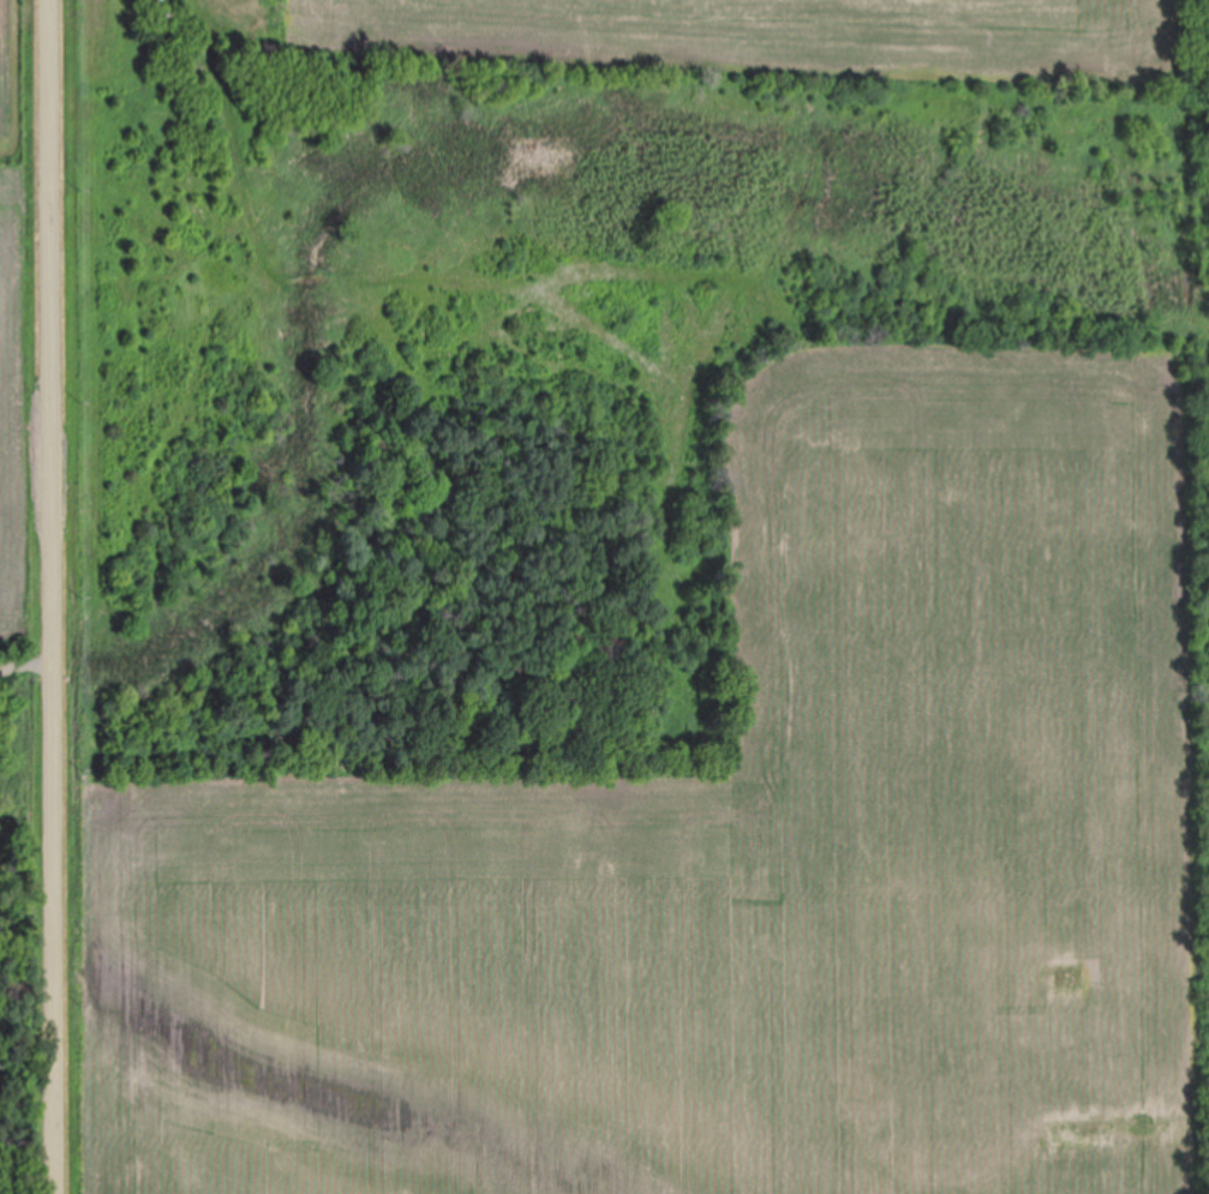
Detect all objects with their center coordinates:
crop: (770, 28)
crop: (20, 396)
road: (59, 596)
crop: (723, 857)

